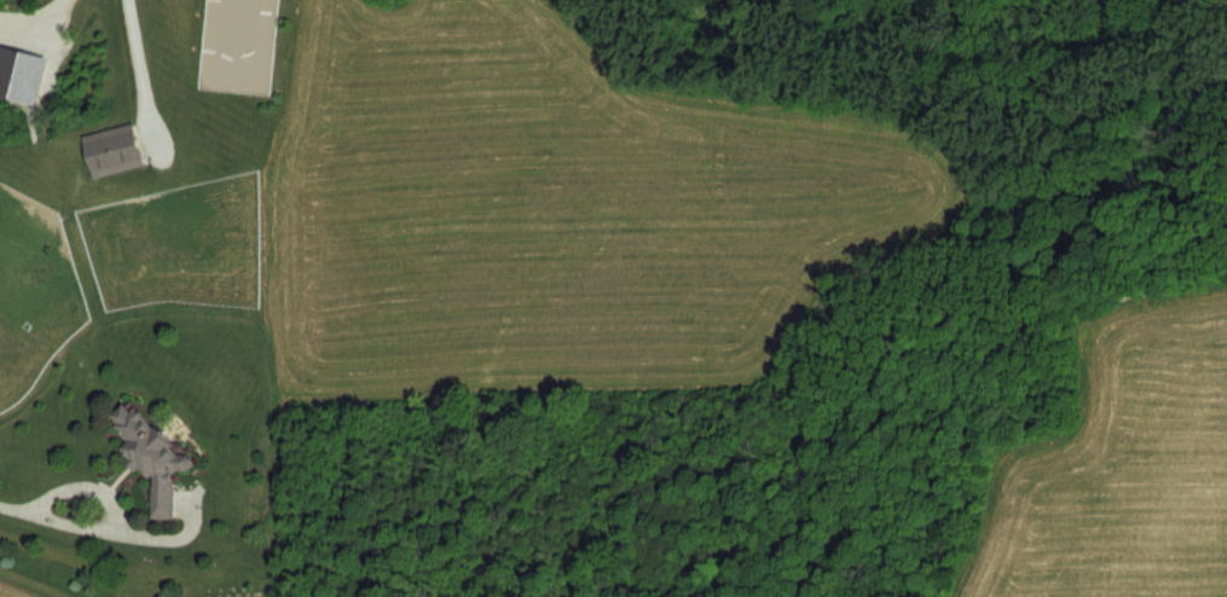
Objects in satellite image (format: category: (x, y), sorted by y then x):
road: (137, 56)
building: (112, 149)
building: (156, 457)
road: (17, 510)

